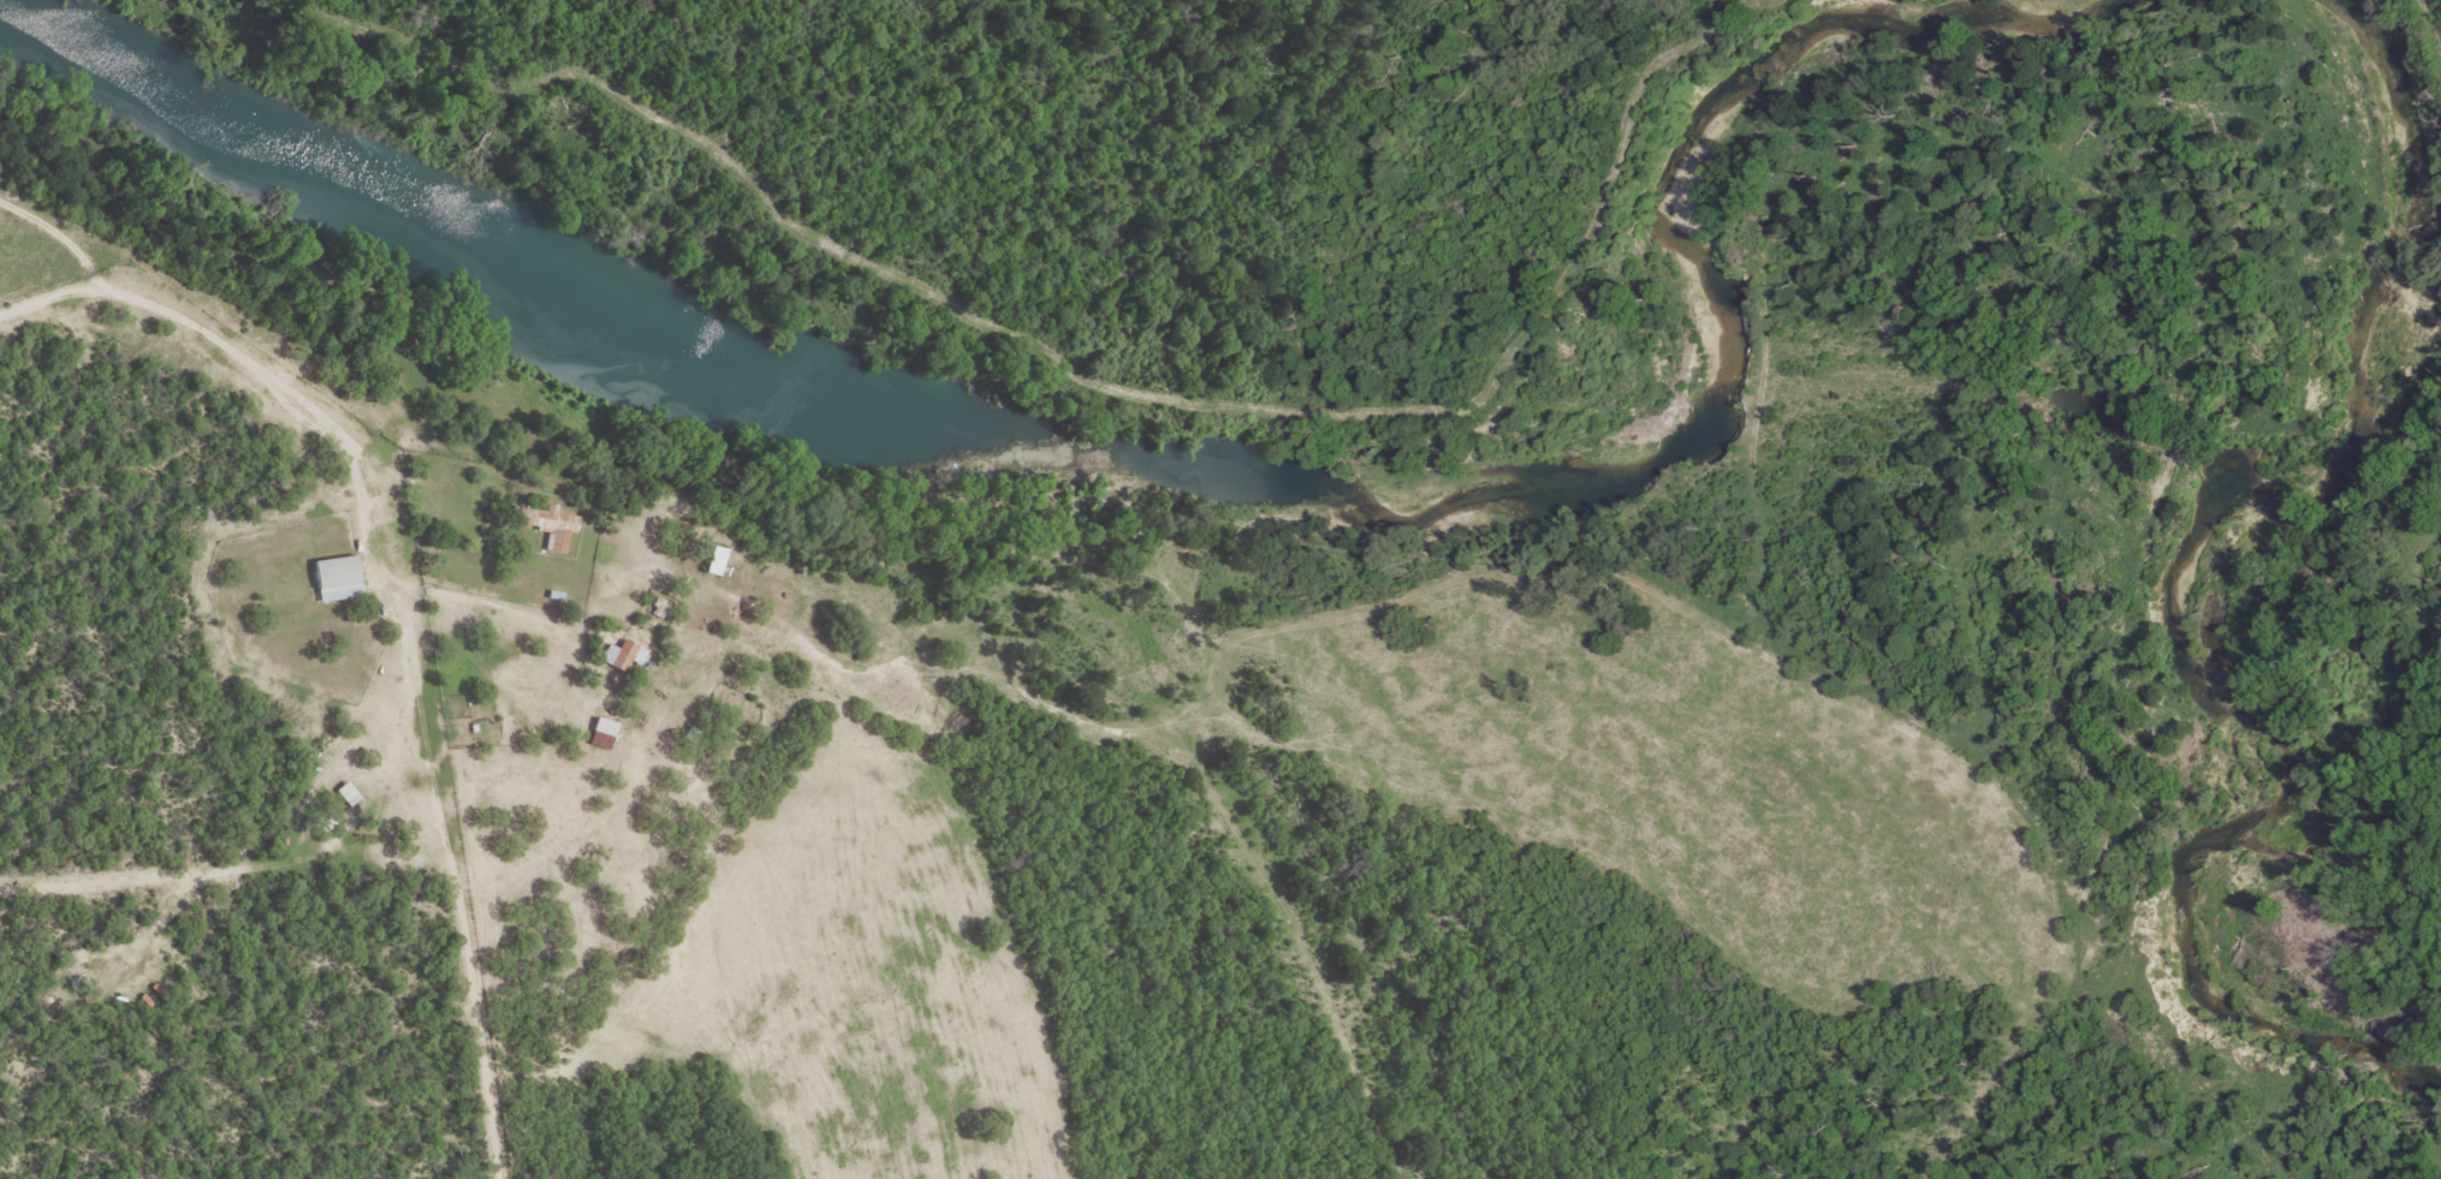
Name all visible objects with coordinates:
road: (2431, 1)
road: (2431, 19)
river: (2415, 126)
river: (1206, 481)
building: (719, 561)
road: (2423, 564)
road: (1552, 577)
building: (340, 579)
road: (411, 606)
road: (802, 632)
building: (599, 733)
river: (2317, 773)

